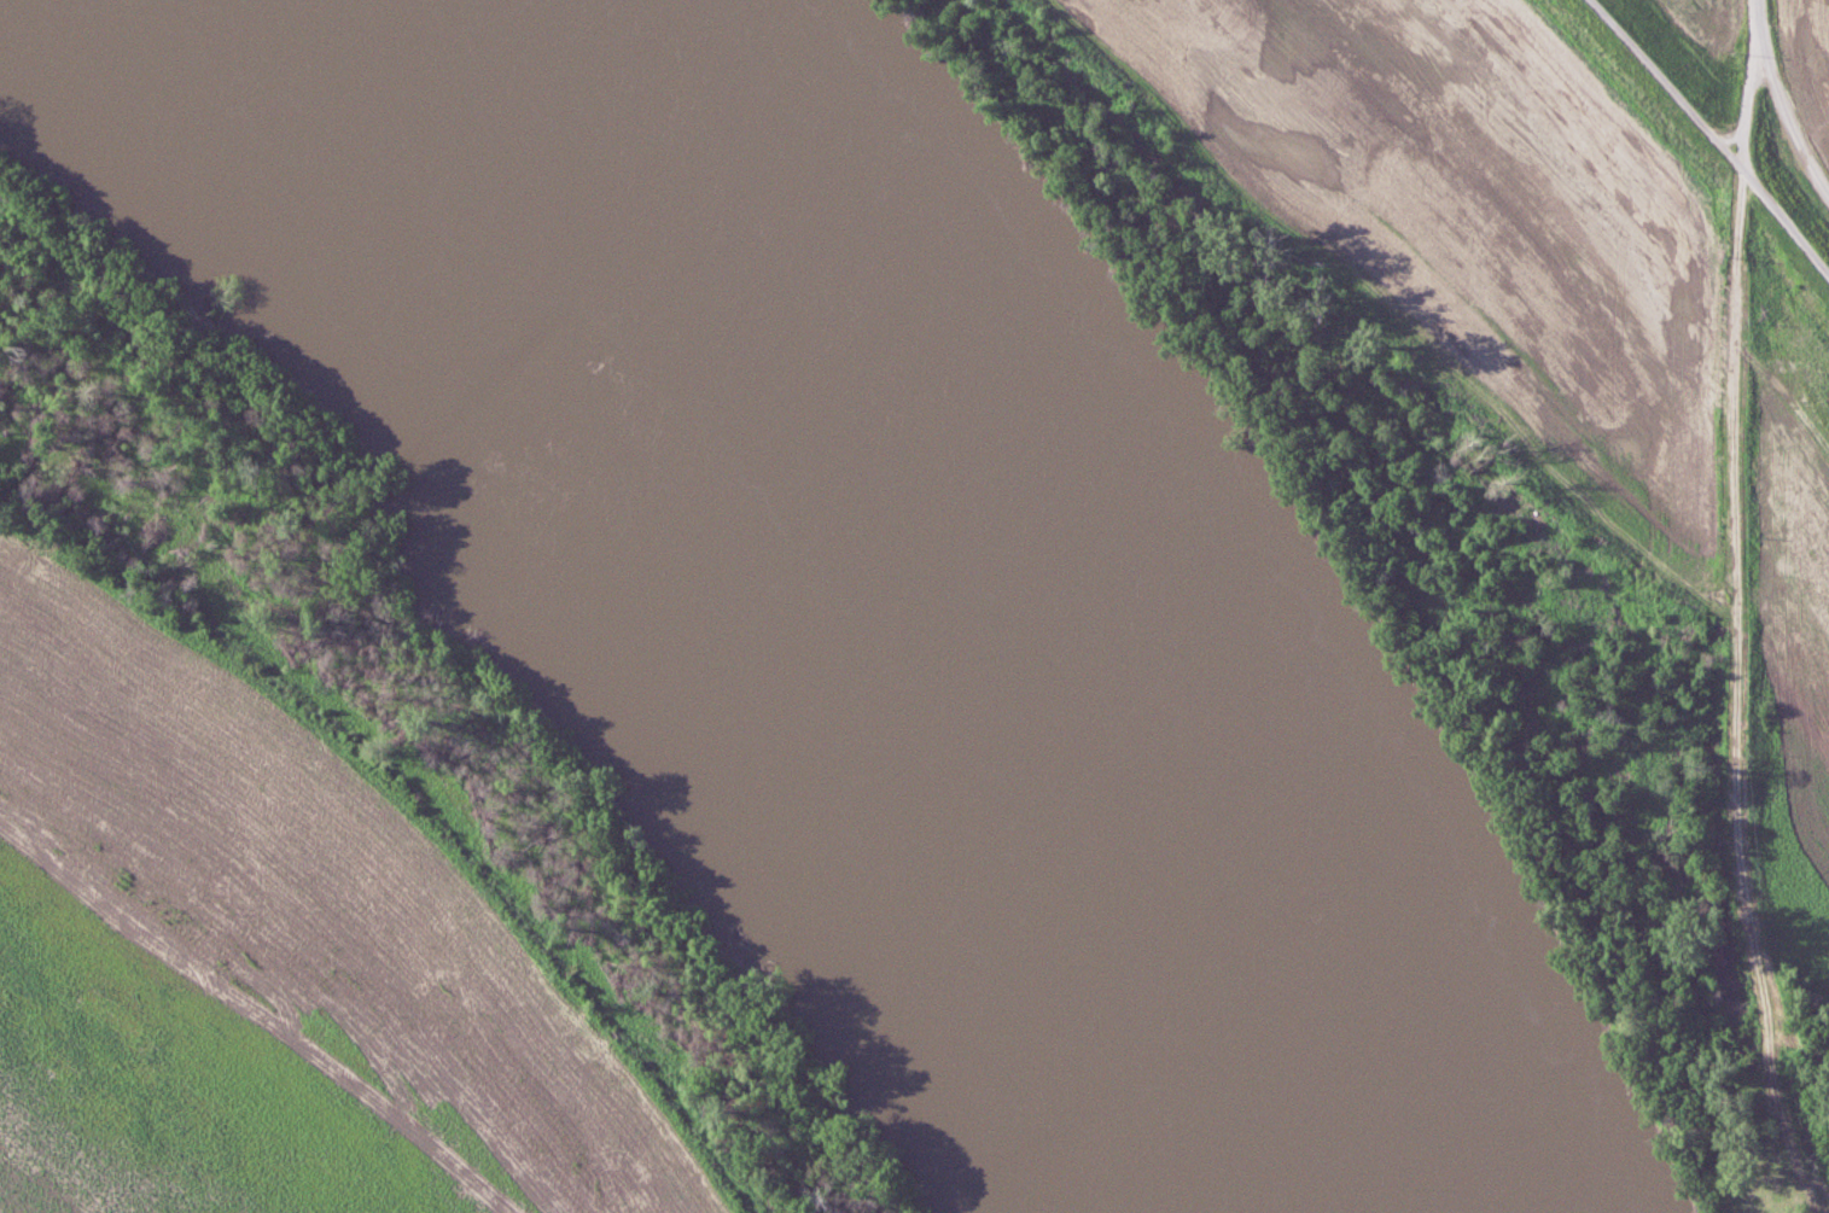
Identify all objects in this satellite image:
road: (1666, 84)
road: (1747, 91)
road: (1782, 99)
road: (1784, 223)
river: (927, 595)

